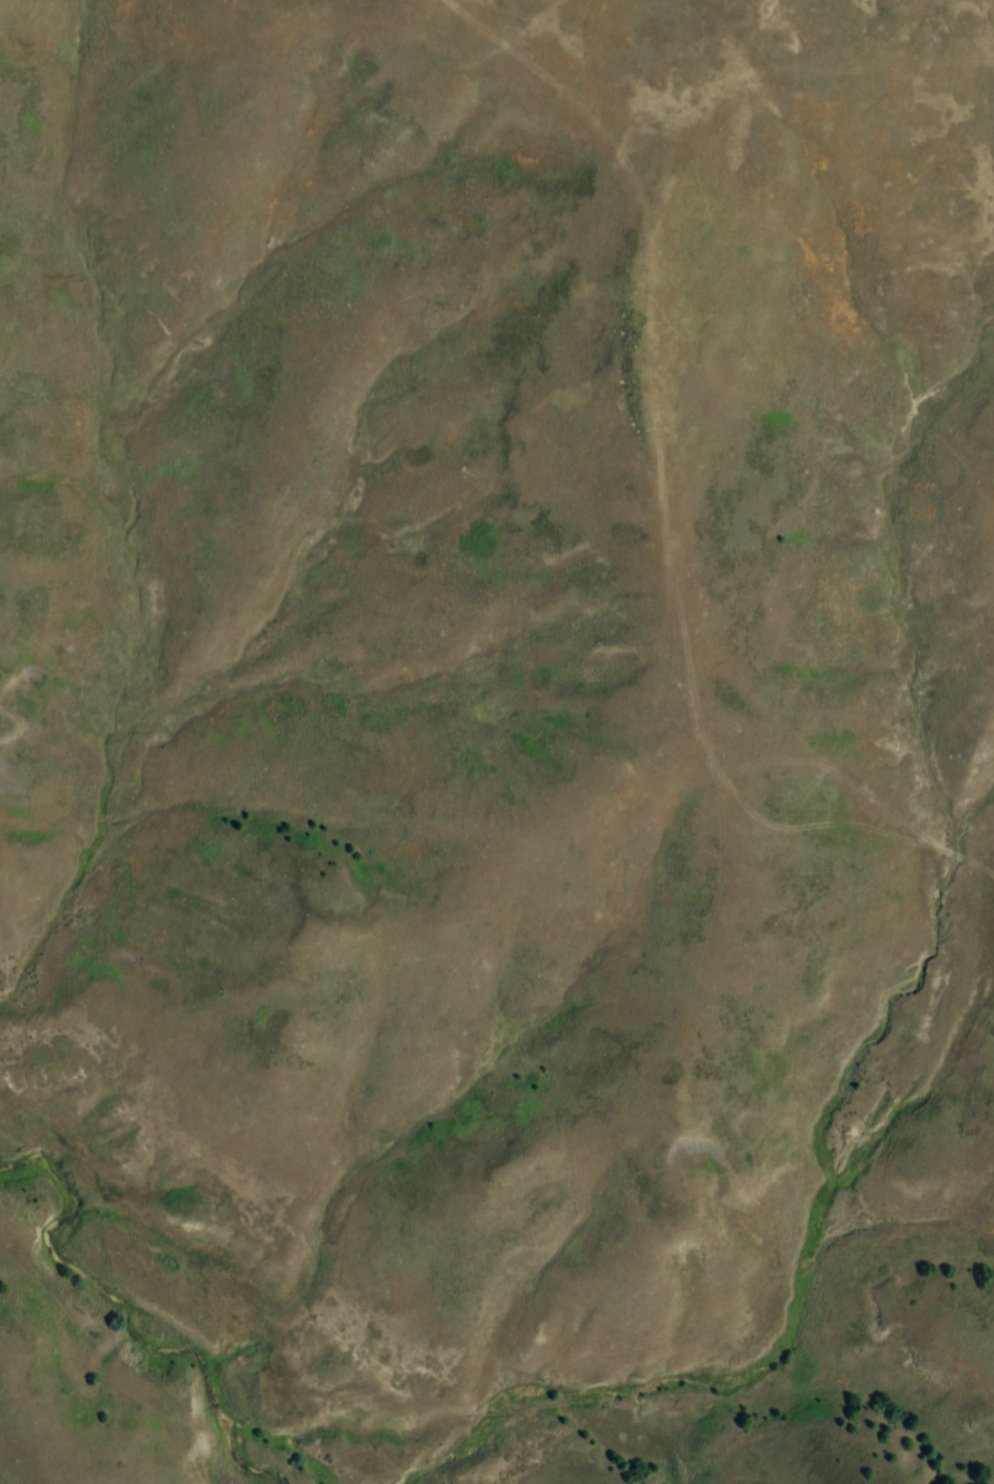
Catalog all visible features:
road: (960, 9)
road: (567, 106)
road: (700, 124)
road: (697, 619)

